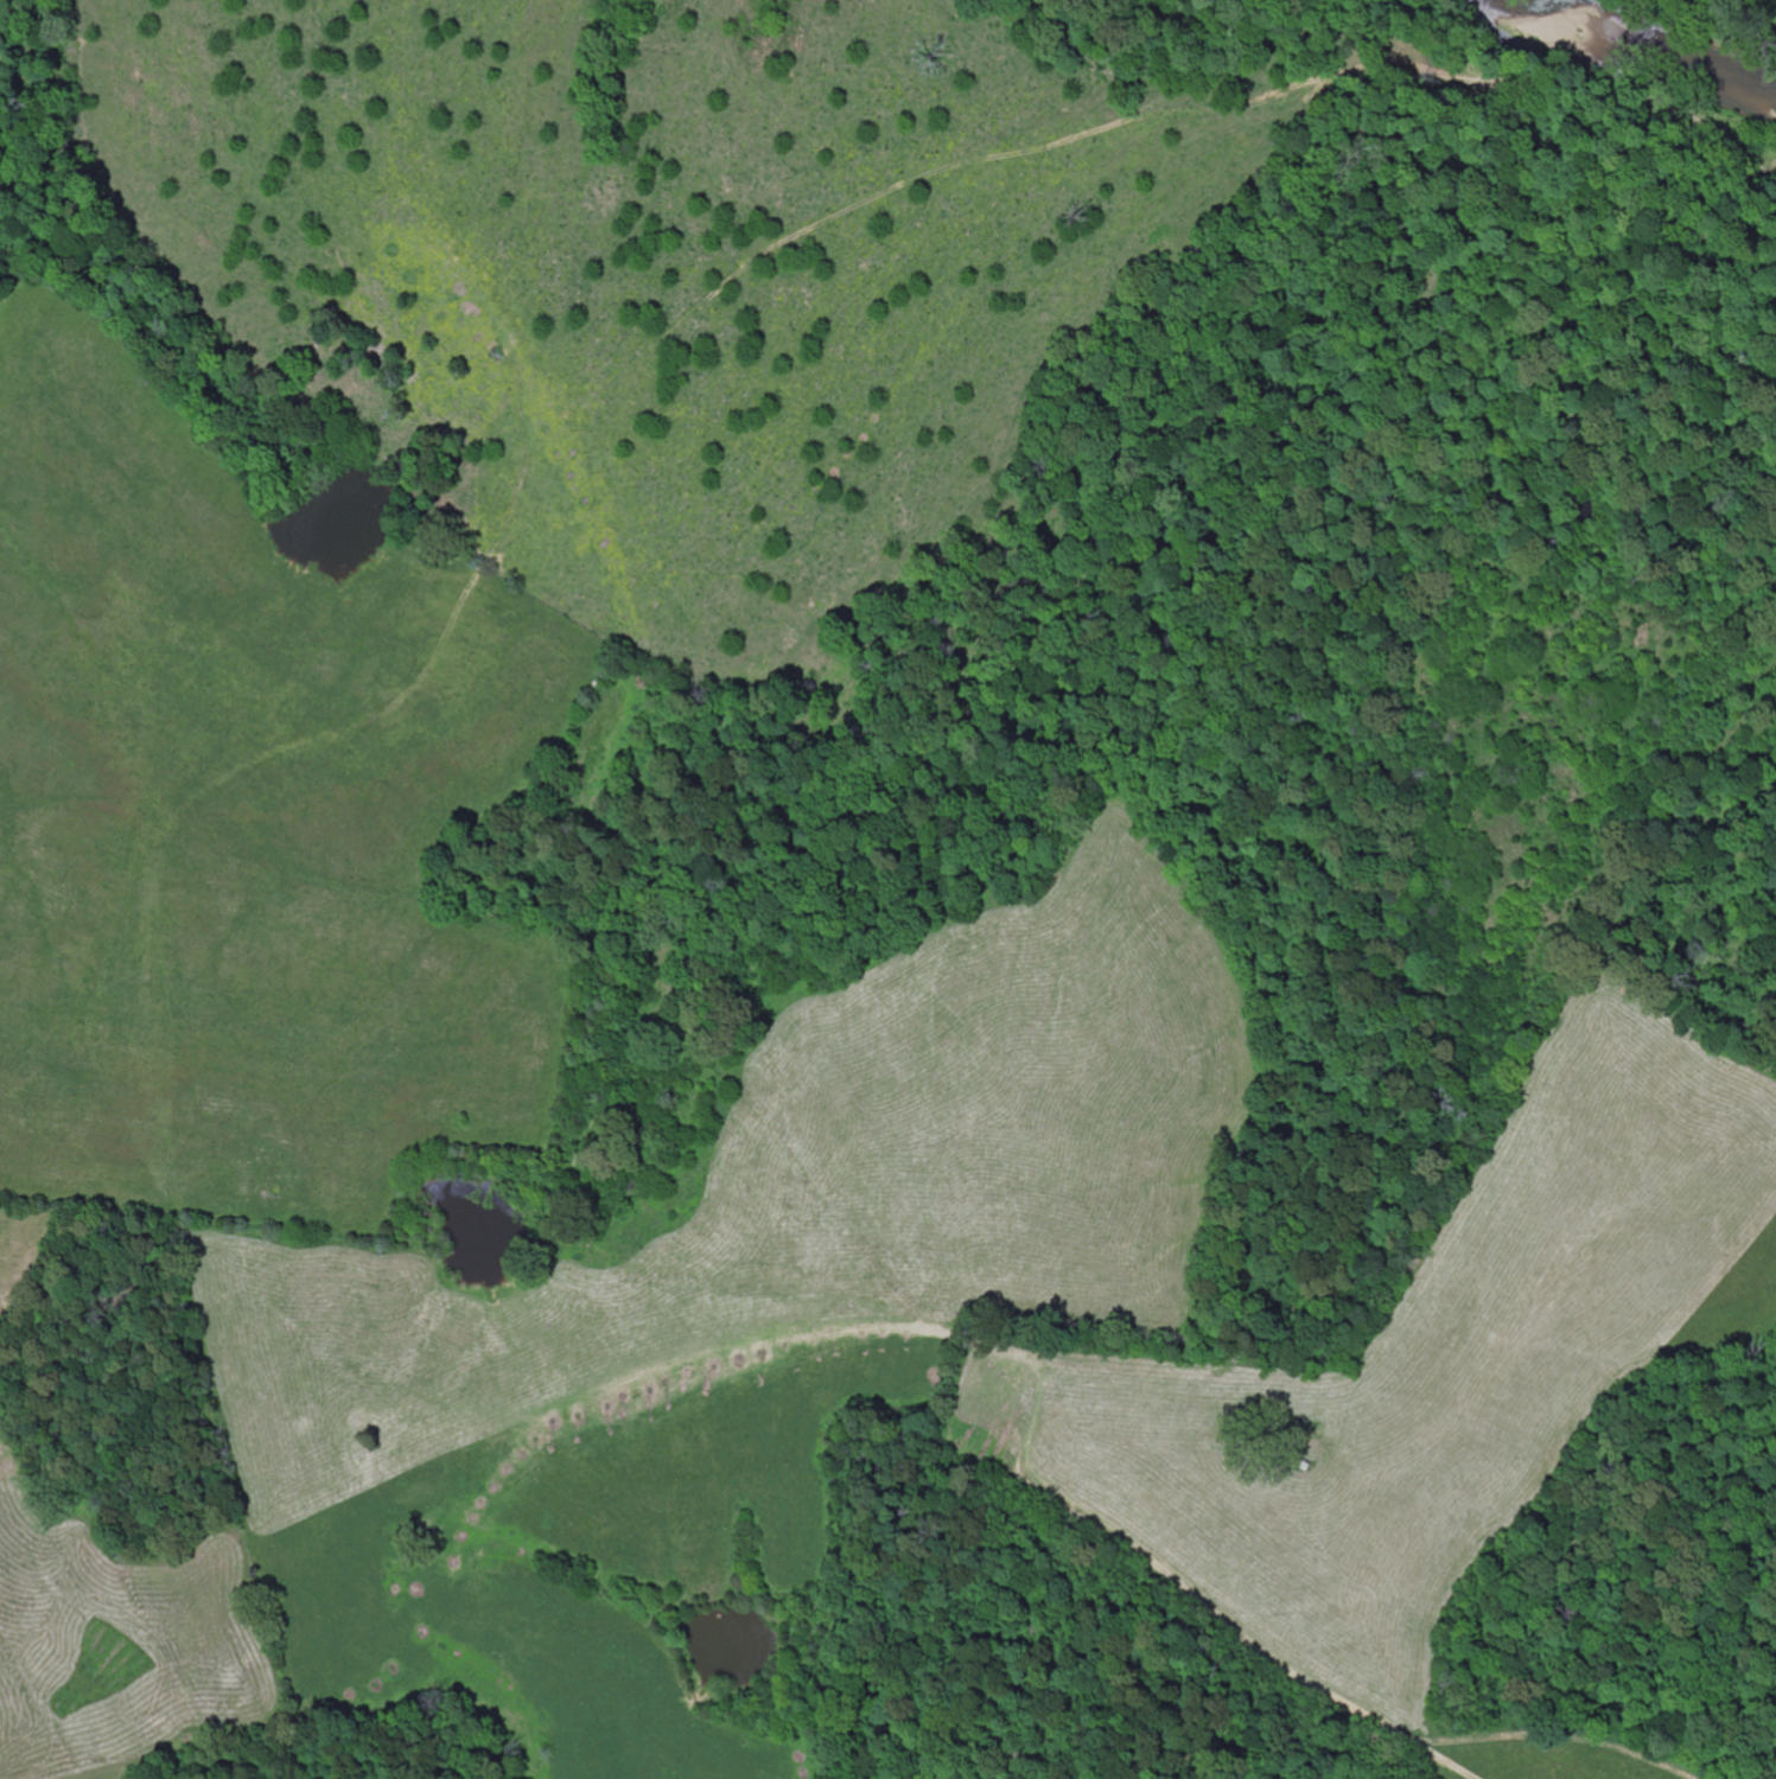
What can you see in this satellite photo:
river: (1529, 2)
river: (1679, 56)

